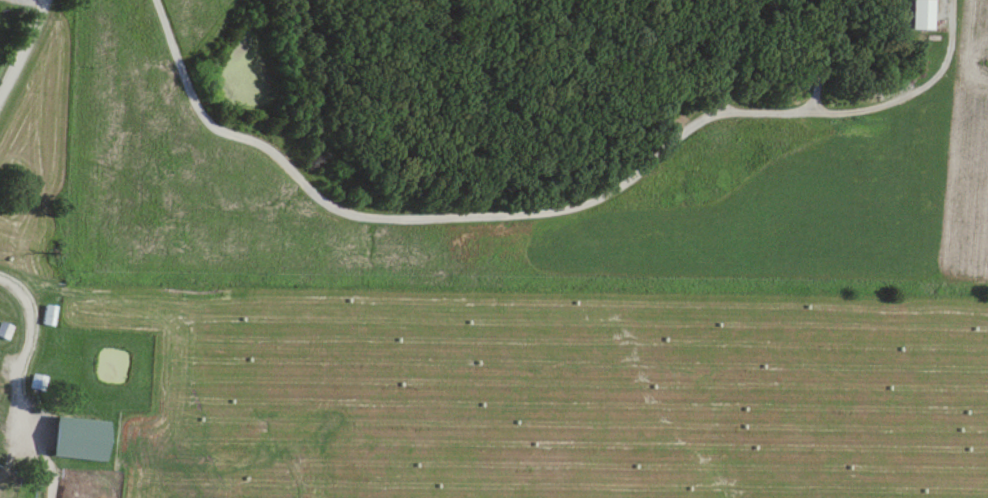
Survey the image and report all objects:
building: (918, 14)
road: (22, 46)
road: (797, 56)
road: (869, 112)
road: (451, 223)
building: (48, 316)
building: (4, 331)
road: (23, 353)
building: (36, 383)
building: (68, 440)

